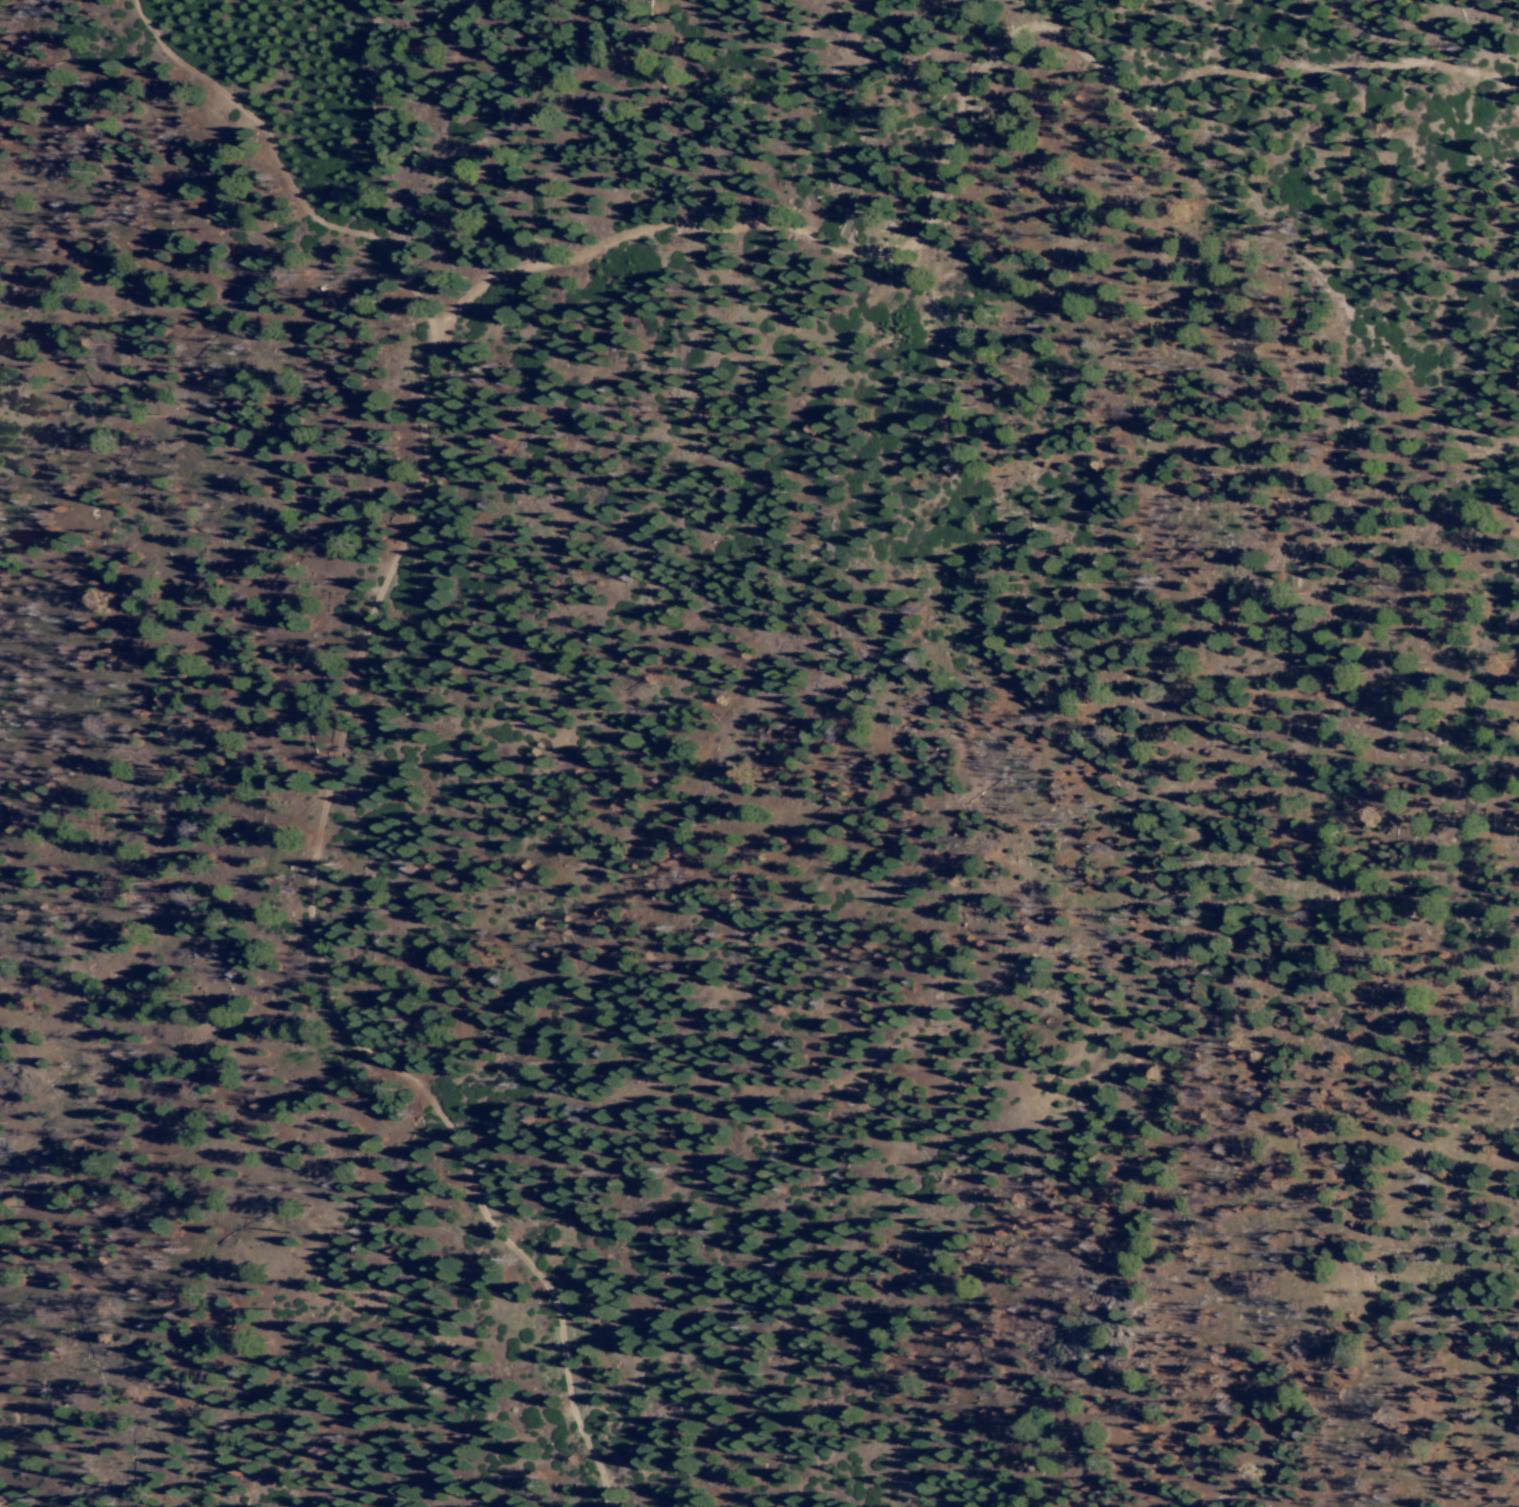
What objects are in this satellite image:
road: (1196, 156)
road: (930, 237)
road: (336, 731)
road: (126, 1378)

